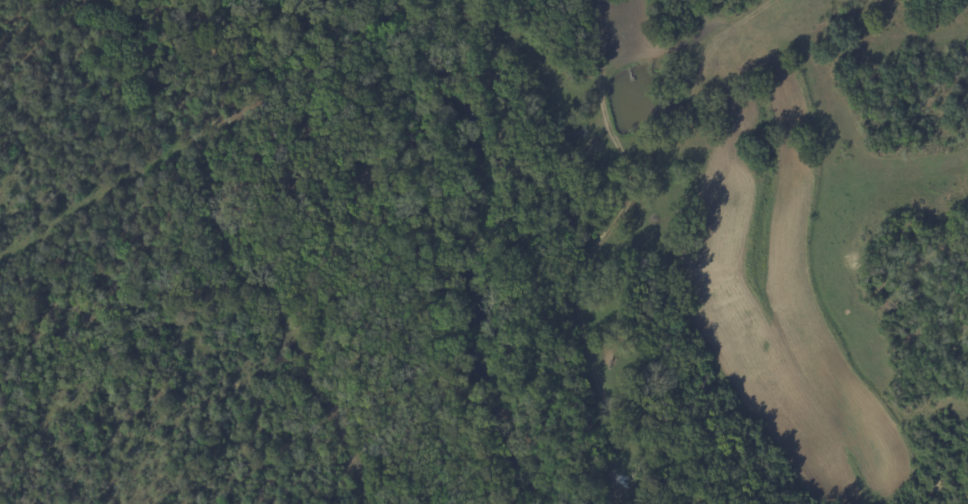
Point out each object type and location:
road: (724, 310)

